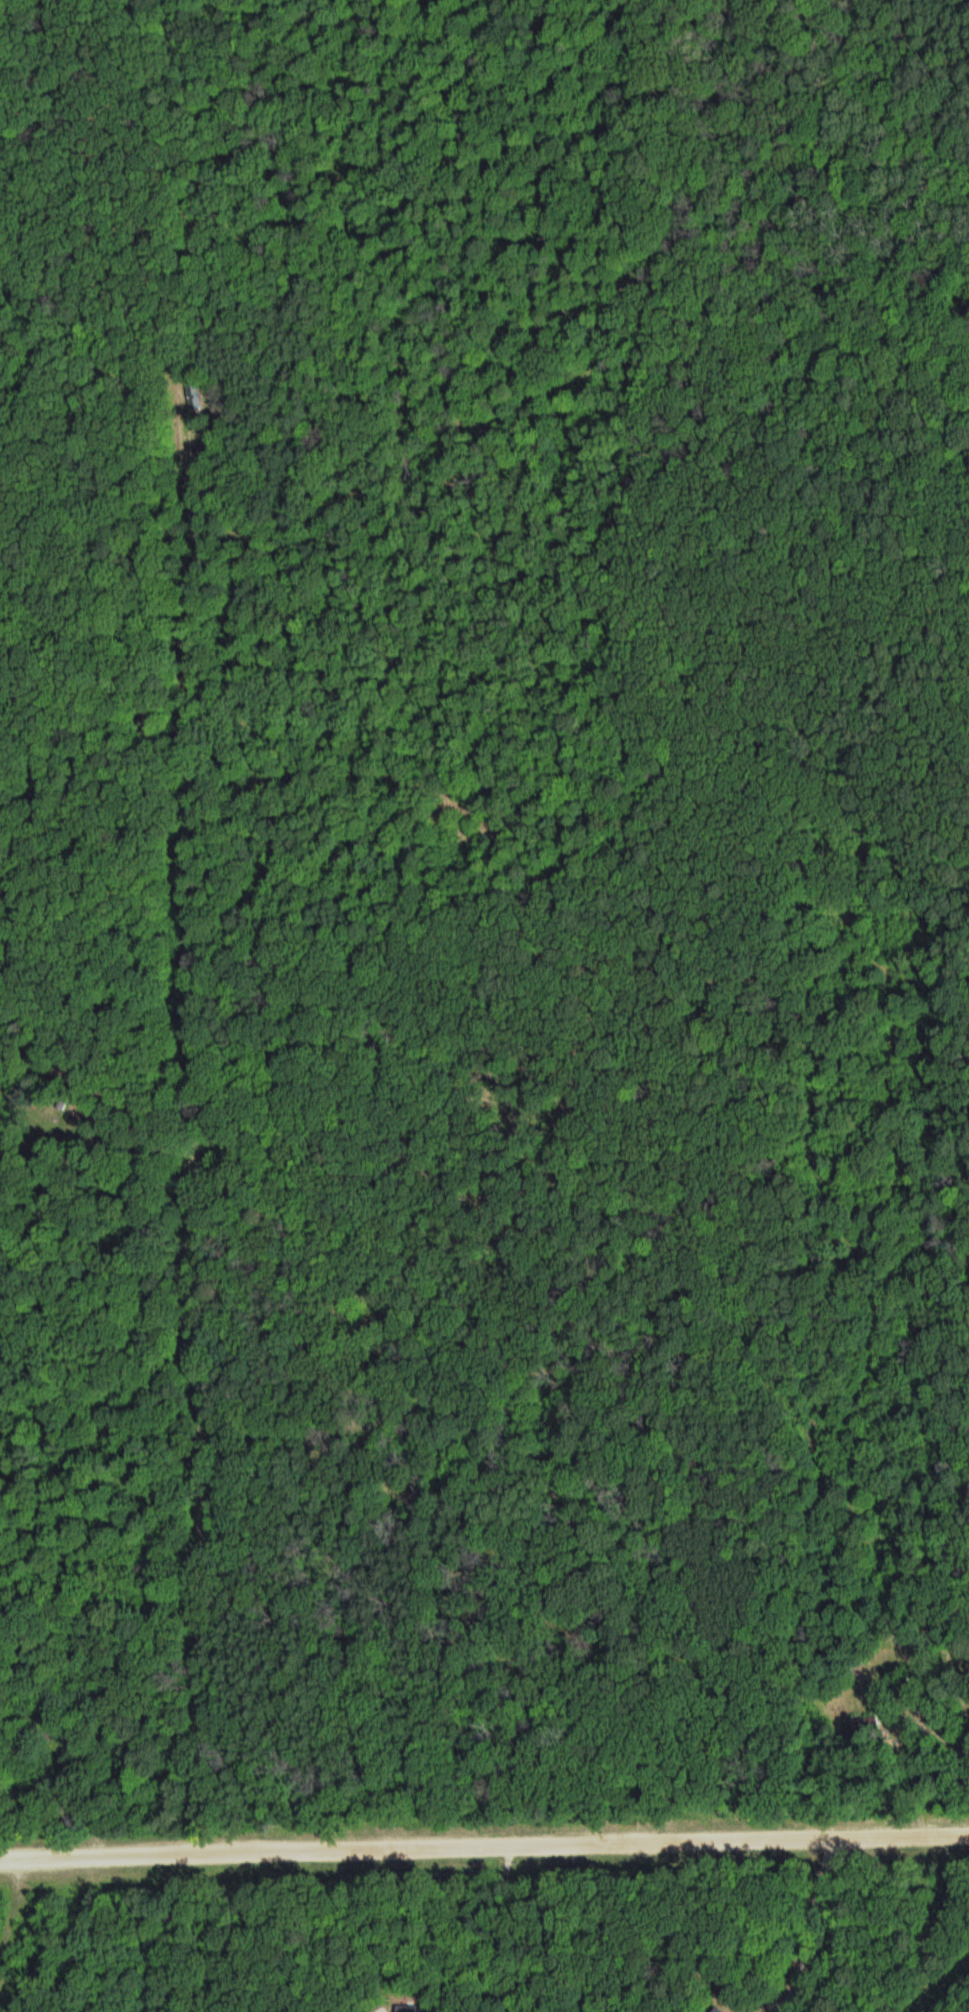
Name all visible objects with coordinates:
road: (484, 1843)
building: (722, 2010)

